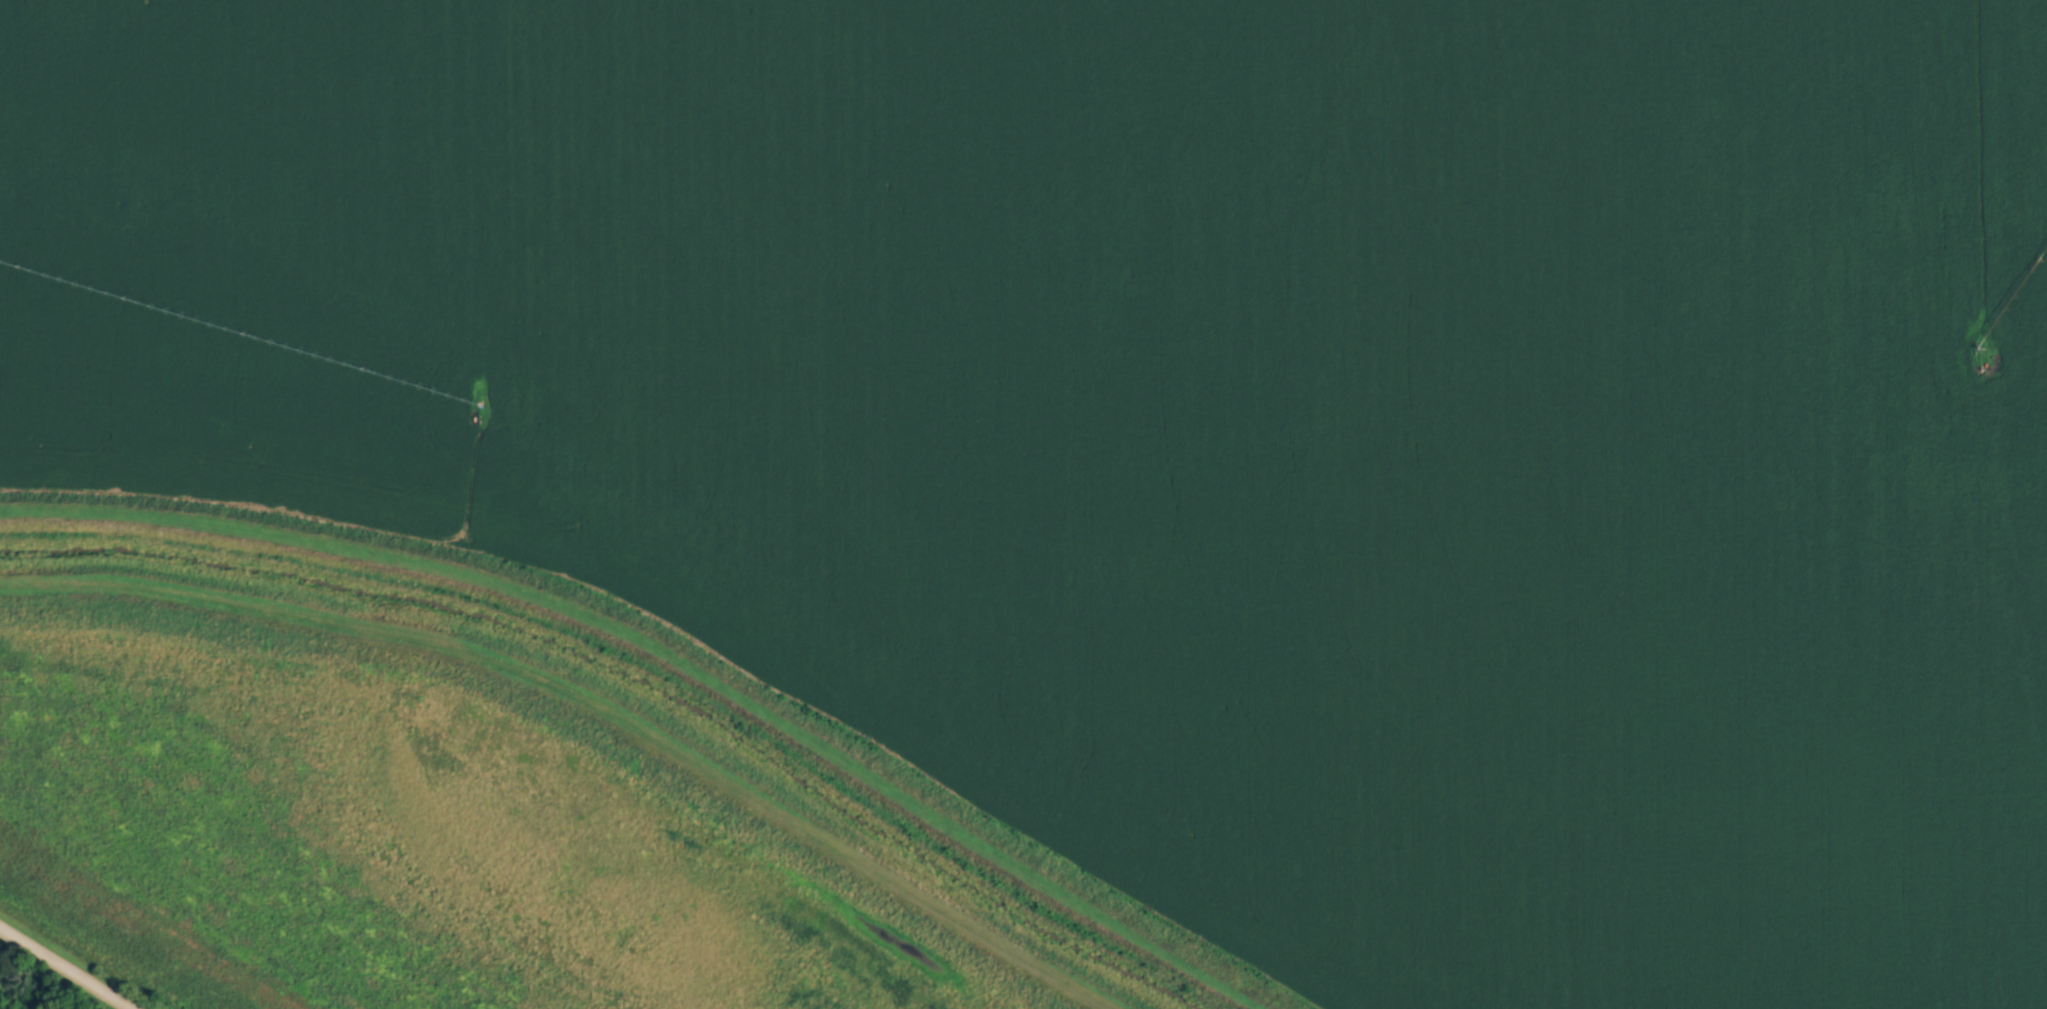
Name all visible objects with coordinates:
road: (60, 972)

